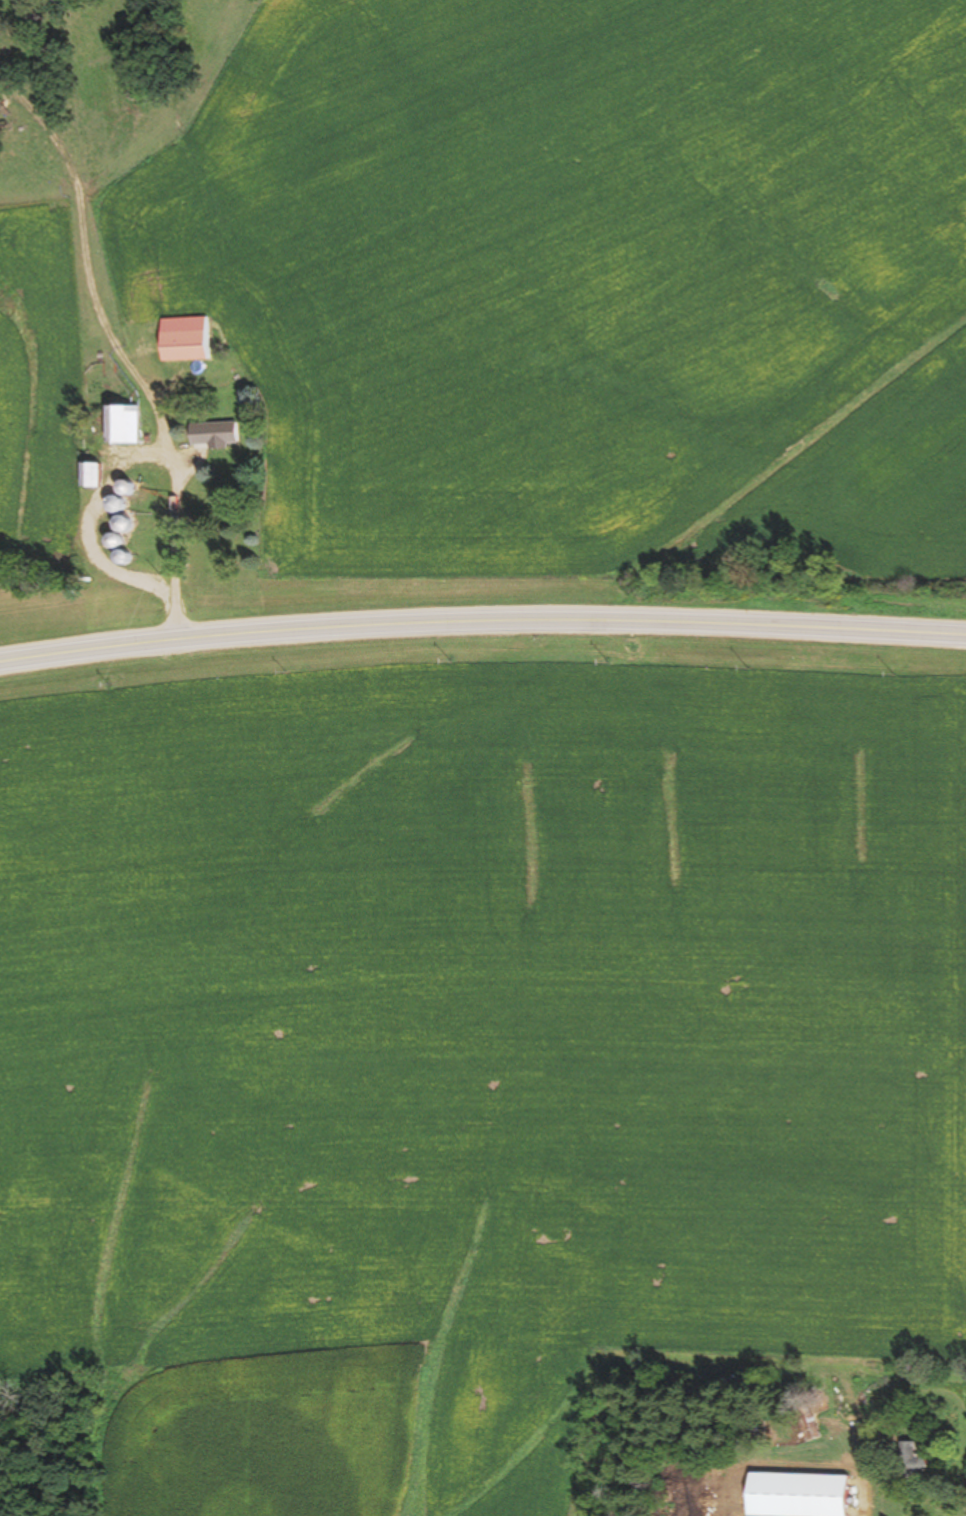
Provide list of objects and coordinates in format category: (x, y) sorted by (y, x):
building: (192, 340)
road: (117, 348)
building: (130, 426)
building: (219, 435)
road: (482, 620)
building: (915, 1460)

